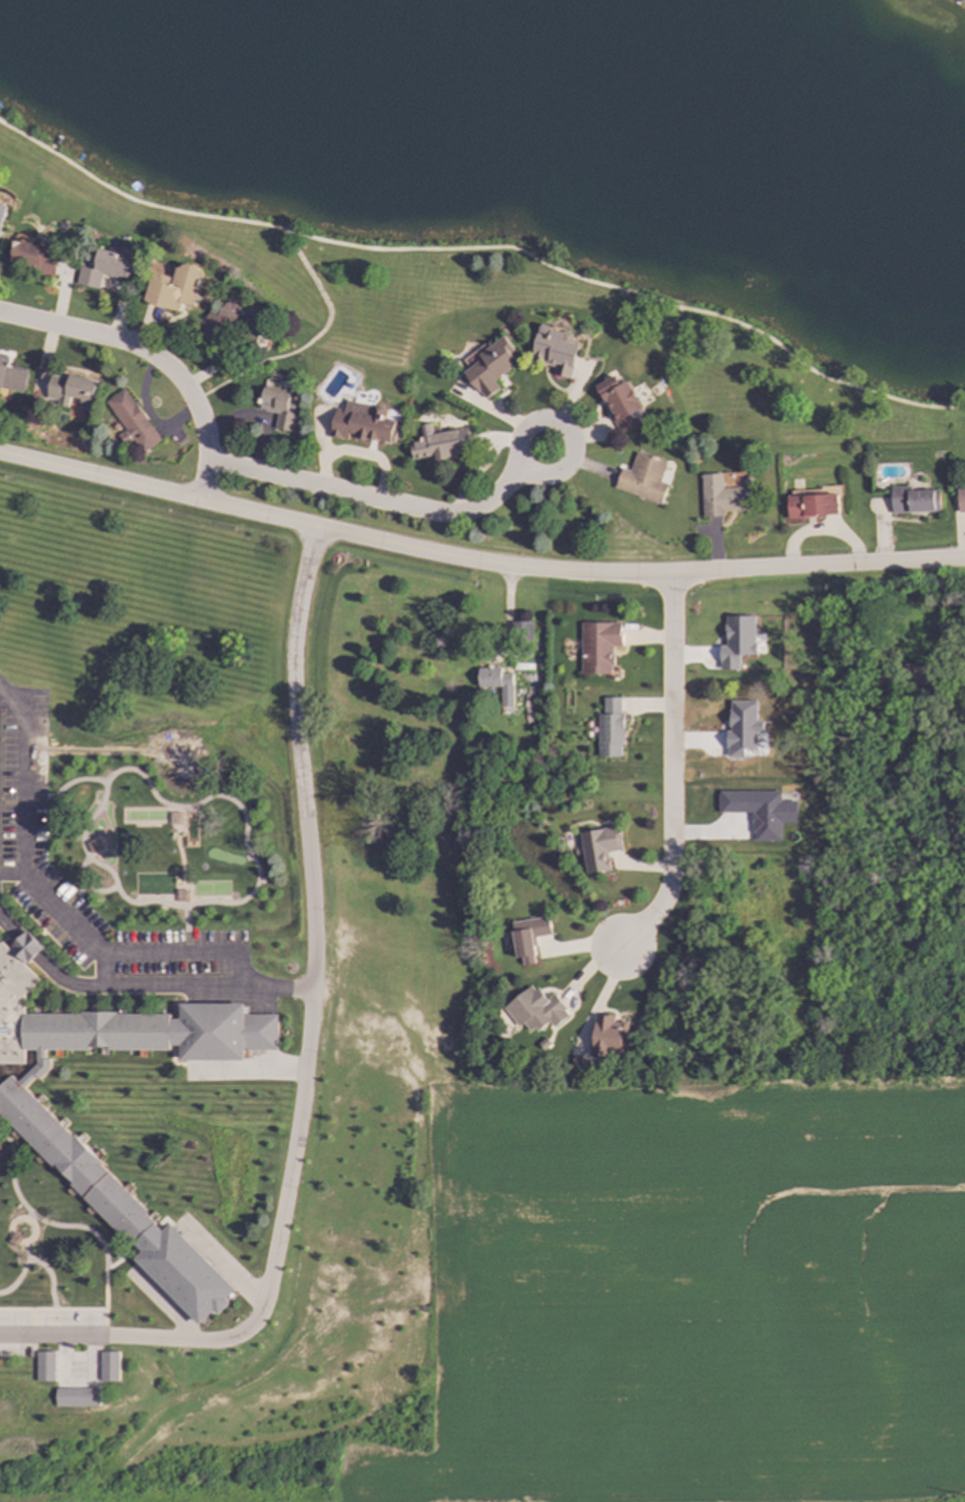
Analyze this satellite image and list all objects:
building: (2, 214)
road: (485, 247)
building: (35, 256)
building: (108, 268)
building: (175, 288)
building: (230, 323)
road: (309, 341)
building: (555, 350)
road: (154, 358)
building: (0, 359)
building: (488, 366)
building: (12, 378)
building: (72, 390)
building: (620, 403)
building: (279, 406)
building: (132, 421)
building: (361, 423)
road: (570, 438)
building: (440, 443)
building: (643, 478)
building: (720, 496)
building: (961, 497)
road: (371, 499)
building: (914, 500)
building: (811, 504)
road: (476, 562)
building: (737, 641)
building: (598, 646)
building: (497, 683)
building: (743, 727)
building: (610, 728)
road: (675, 771)
road: (62, 786)
road: (24, 788)
building: (760, 810)
park: (145, 815)
building: (175, 818)
road: (244, 824)
park: (189, 829)
building: (94, 845)
building: (599, 848)
road: (179, 856)
road: (79, 871)
park: (153, 884)
park: (209, 888)
road: (81, 889)
building: (182, 896)
road: (70, 924)
building: (529, 937)
road: (184, 953)
road: (140, 984)
building: (535, 1010)
building: (607, 1036)
road: (304, 1055)
building: (34, 1124)
crop: (690, 1294)
building: (44, 1366)
building: (108, 1366)
building: (76, 1397)

